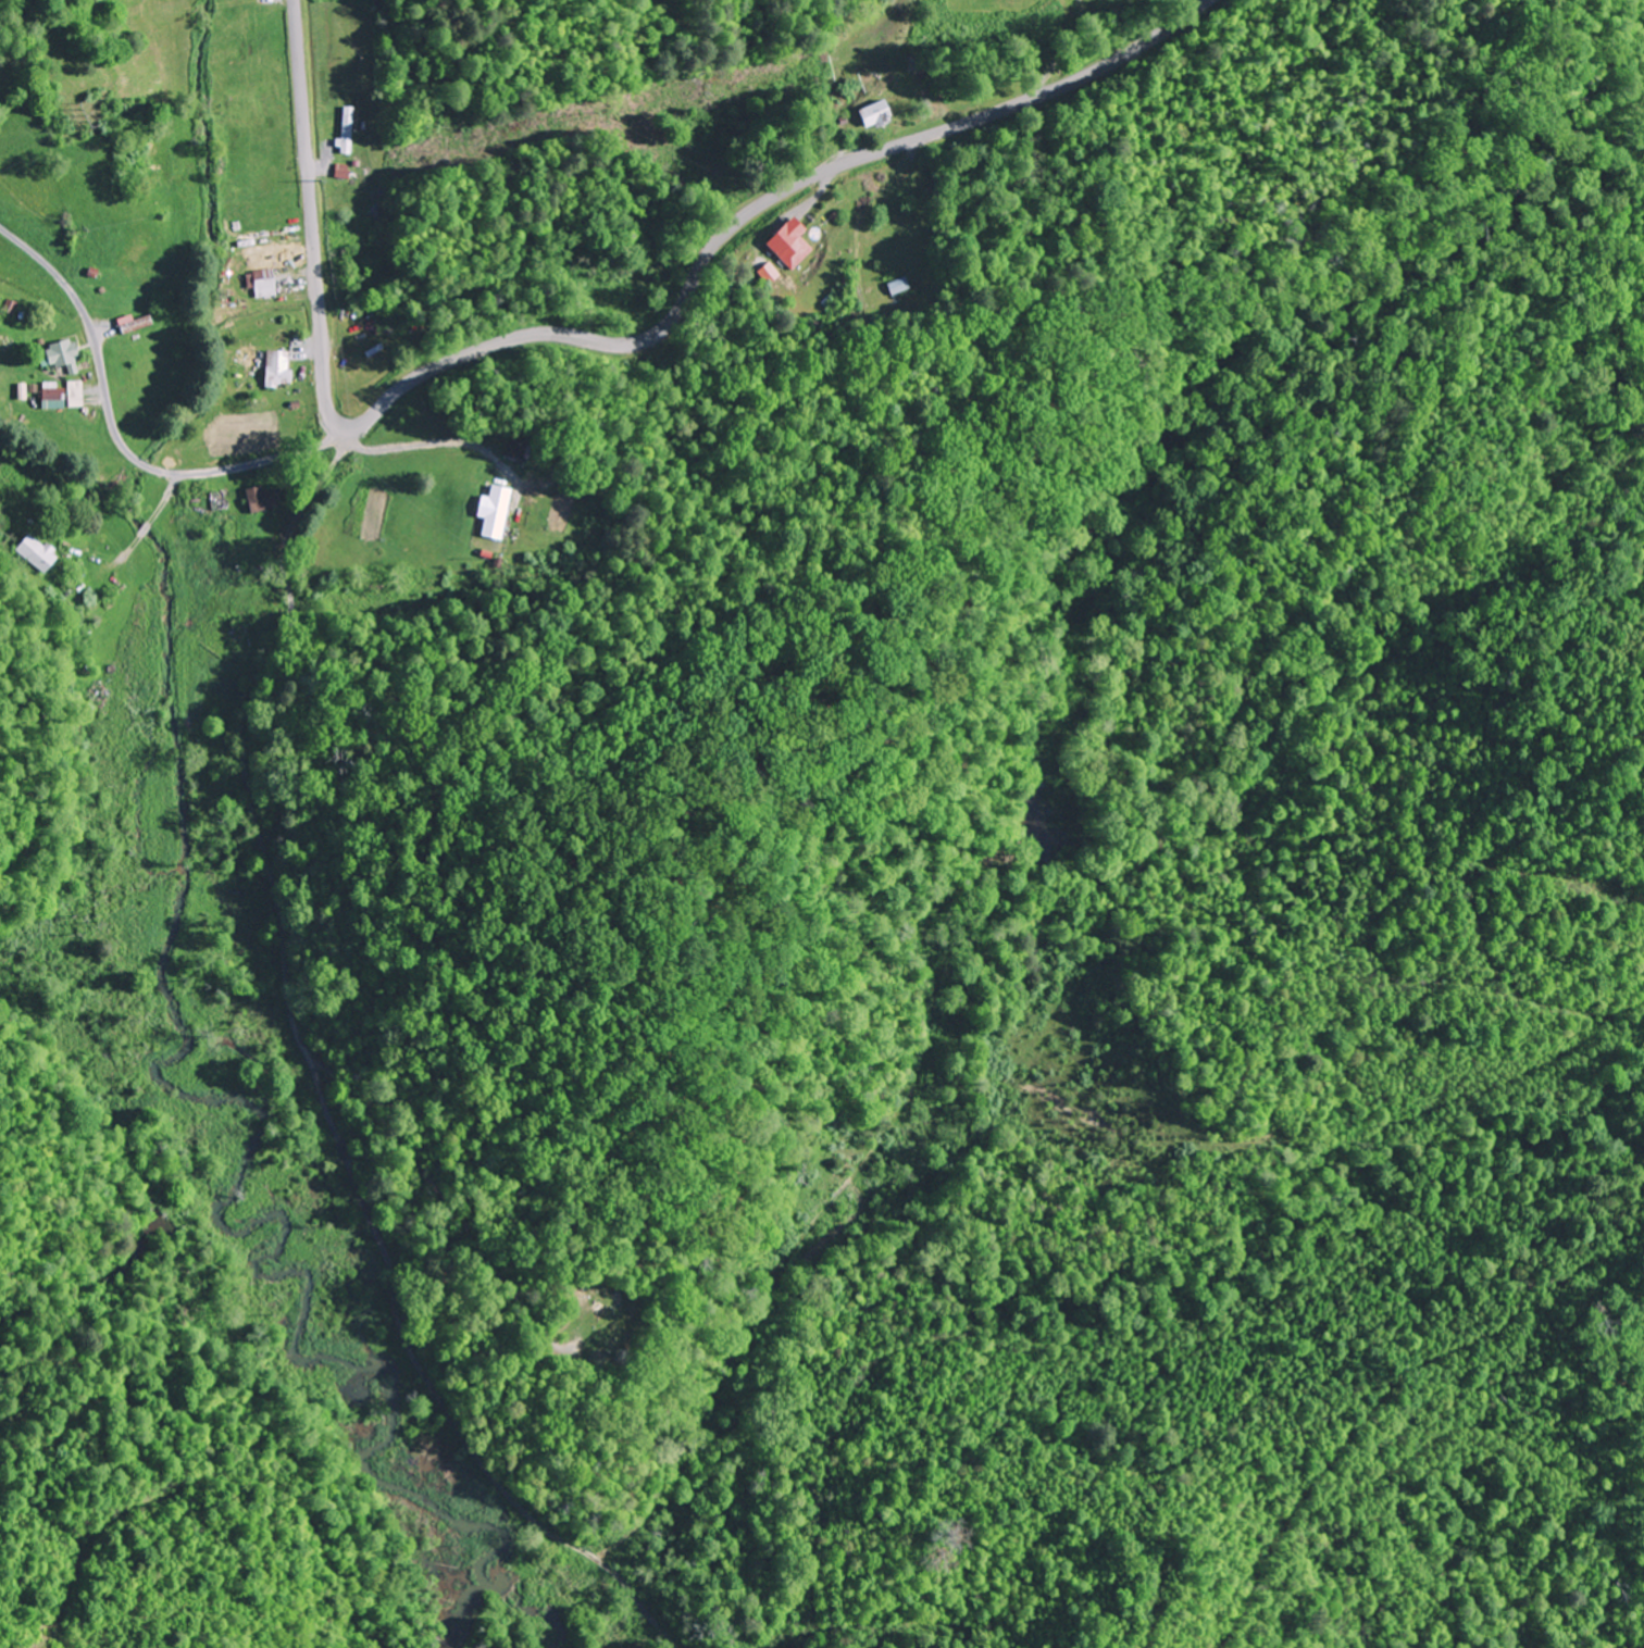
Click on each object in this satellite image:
road: (1063, 52)
building: (873, 115)
building: (347, 129)
building: (789, 244)
building: (263, 284)
road: (603, 342)
building: (55, 353)
building: (281, 366)
road: (117, 440)
road: (427, 447)
building: (512, 448)
building: (261, 499)
building: (491, 510)
building: (34, 552)
road: (317, 1086)

